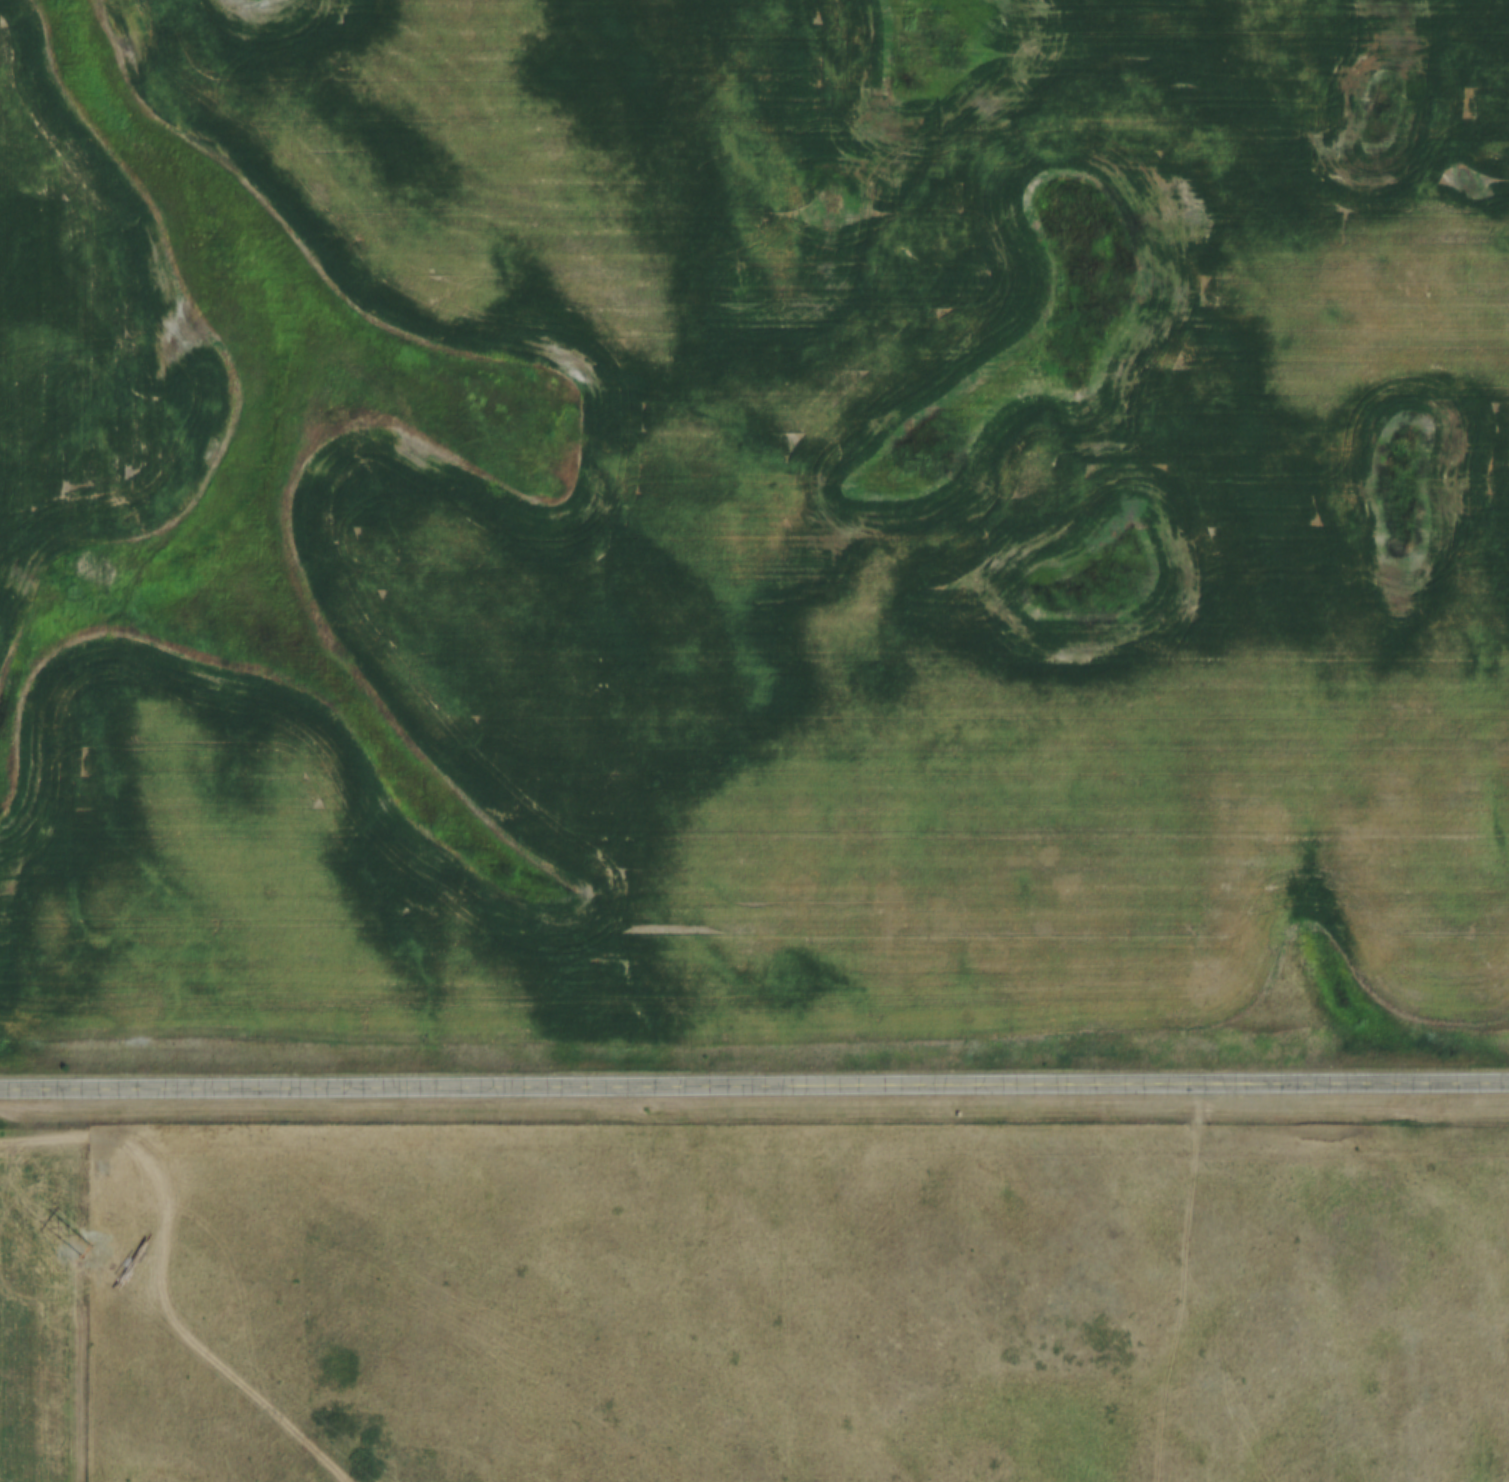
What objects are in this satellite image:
road: (754, 1089)
power tower: (96, 1252)

